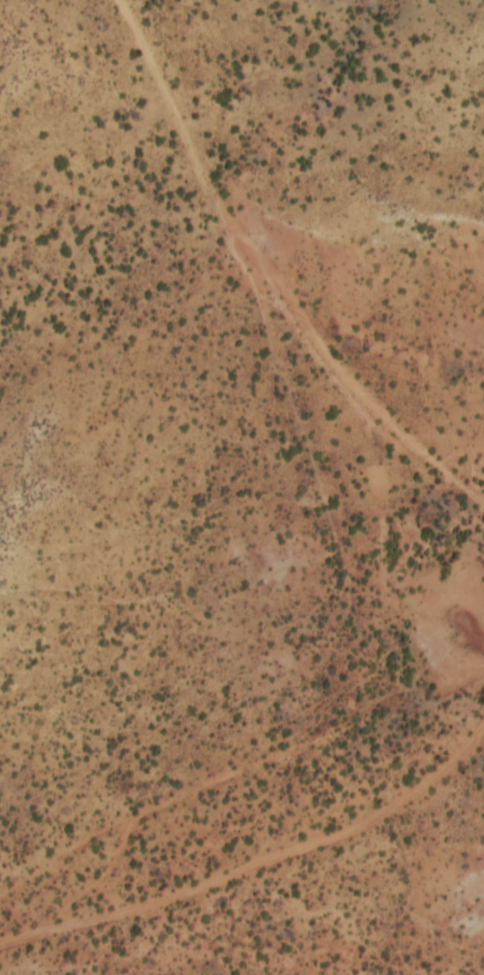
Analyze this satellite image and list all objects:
road: (256, 369)
road: (238, 792)

